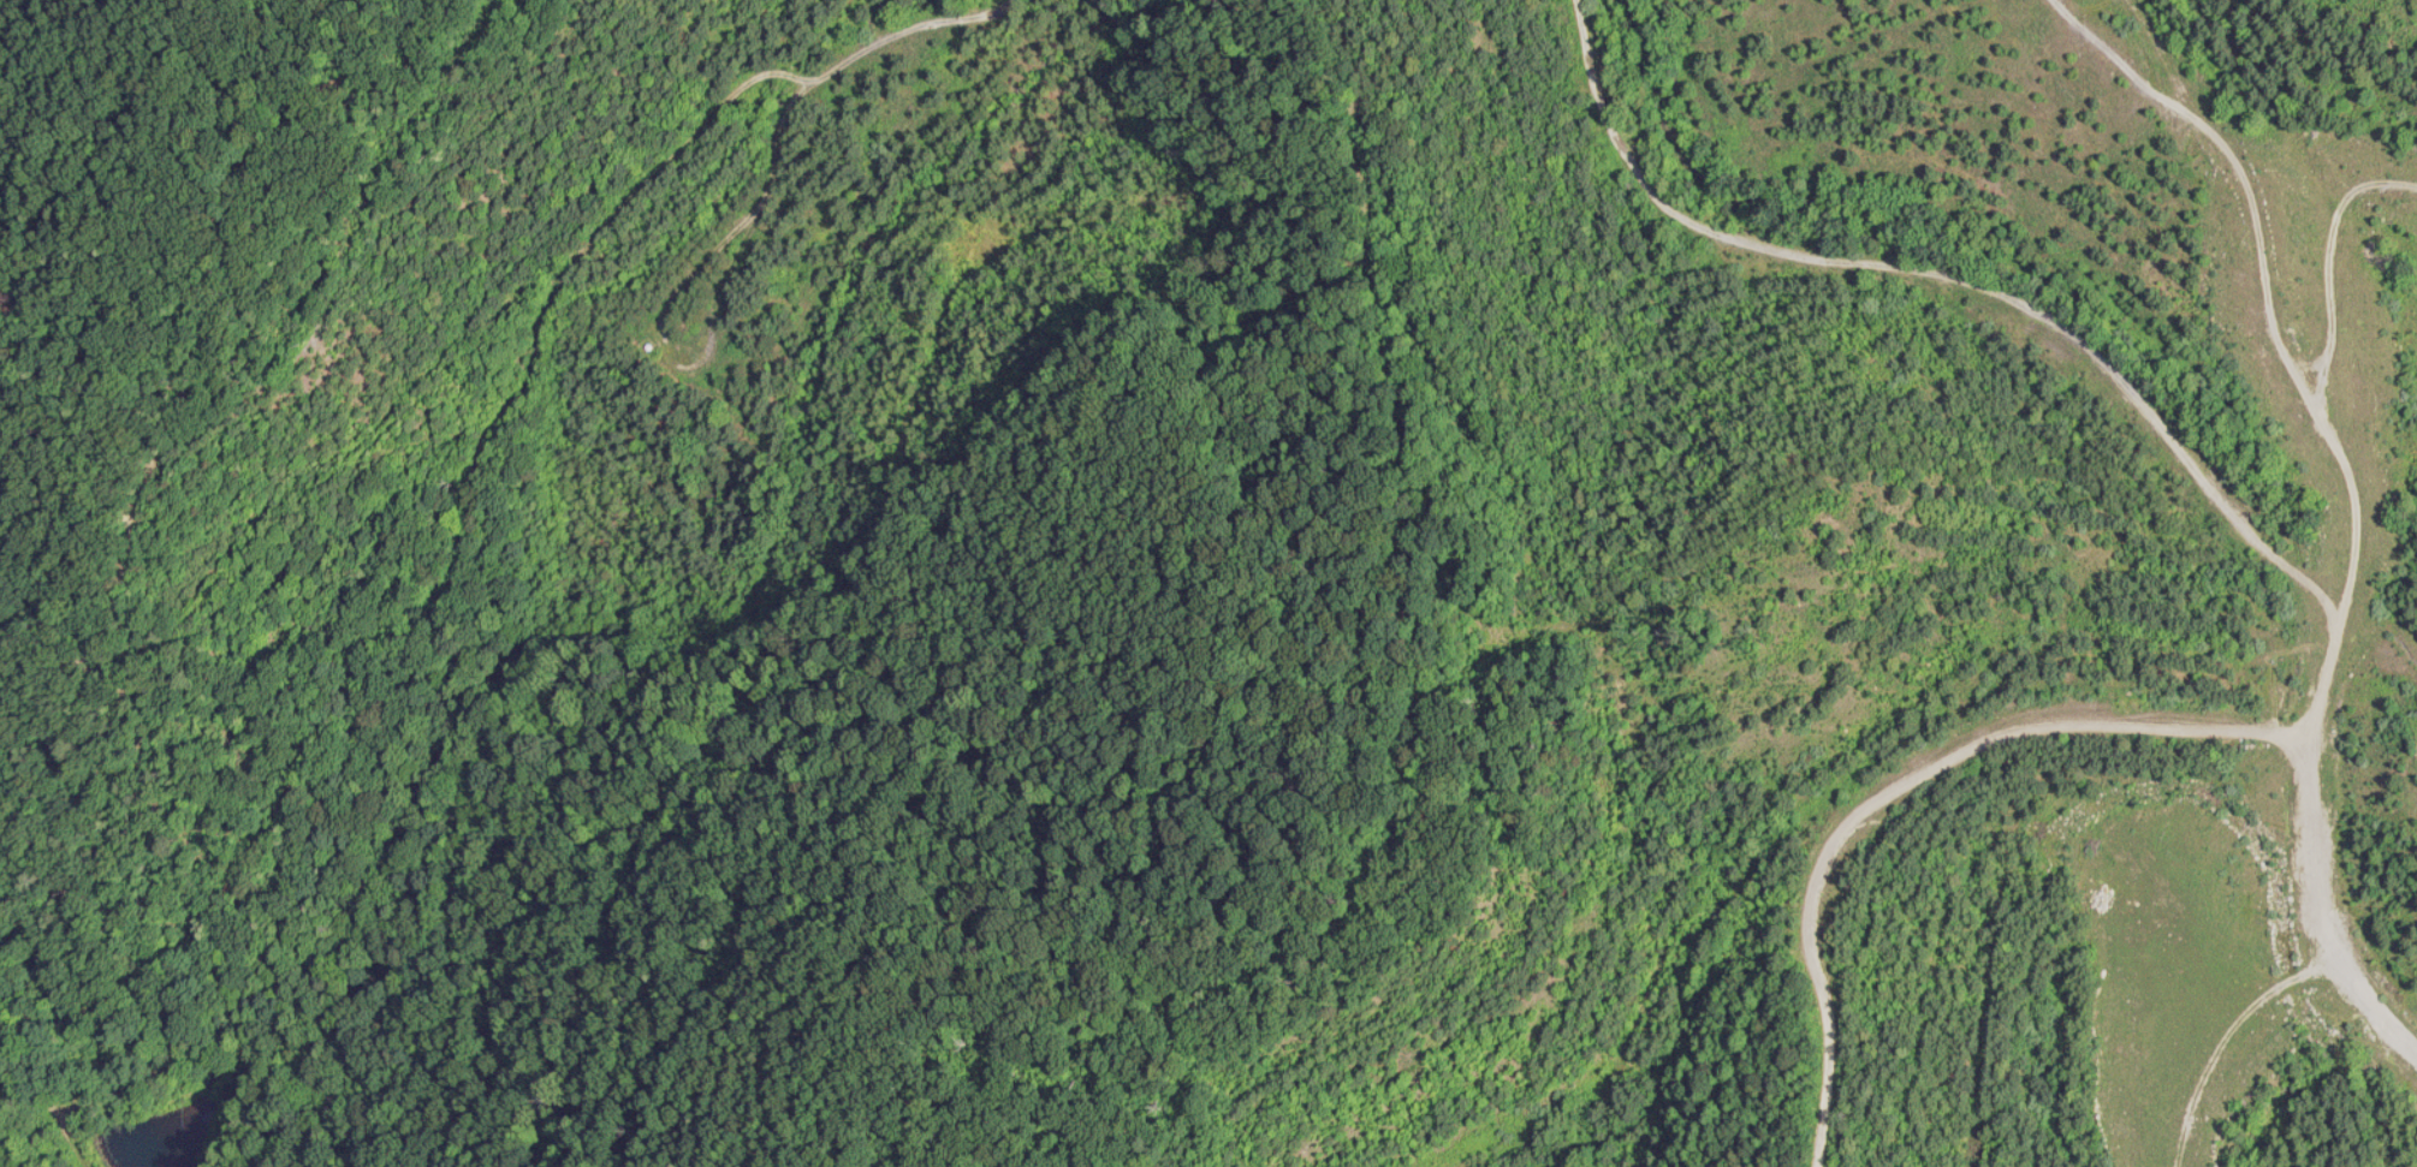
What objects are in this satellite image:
quarry: (1208, 583)

